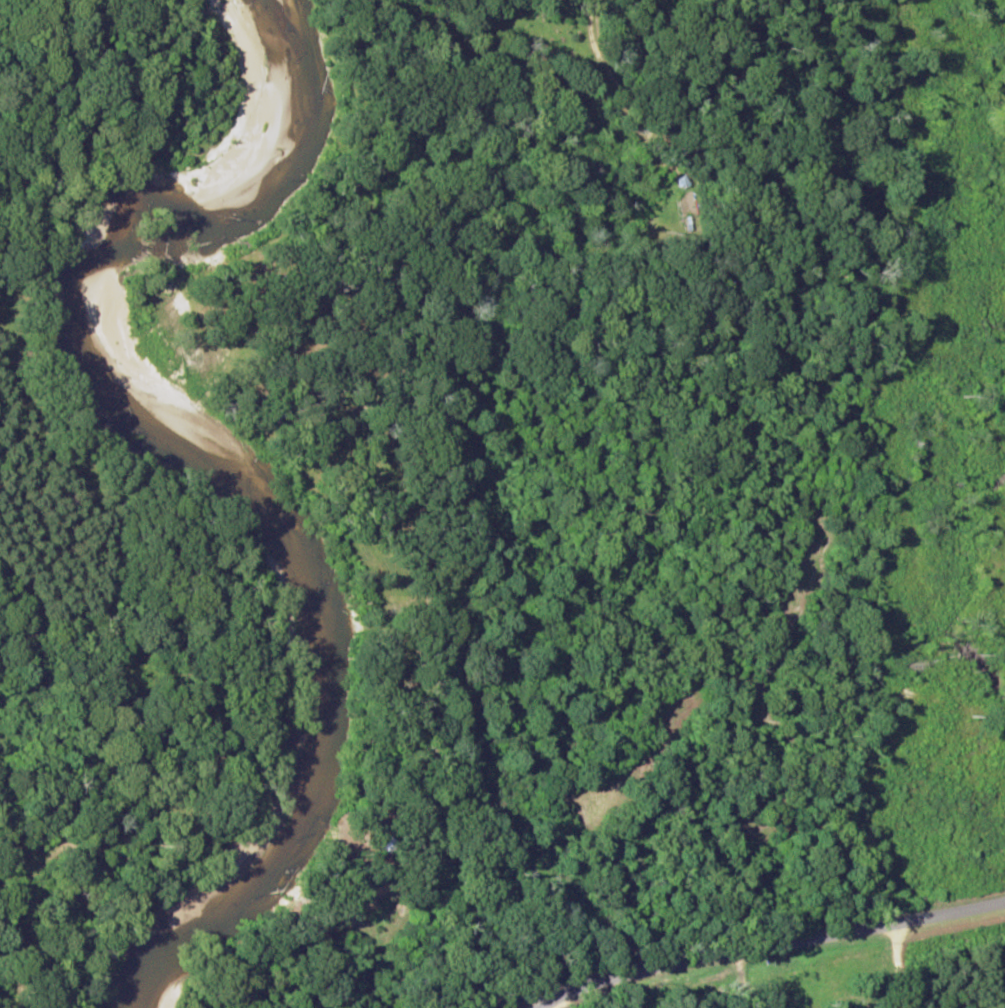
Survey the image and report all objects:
road: (450, 73)
road: (417, 758)
road: (768, 949)

